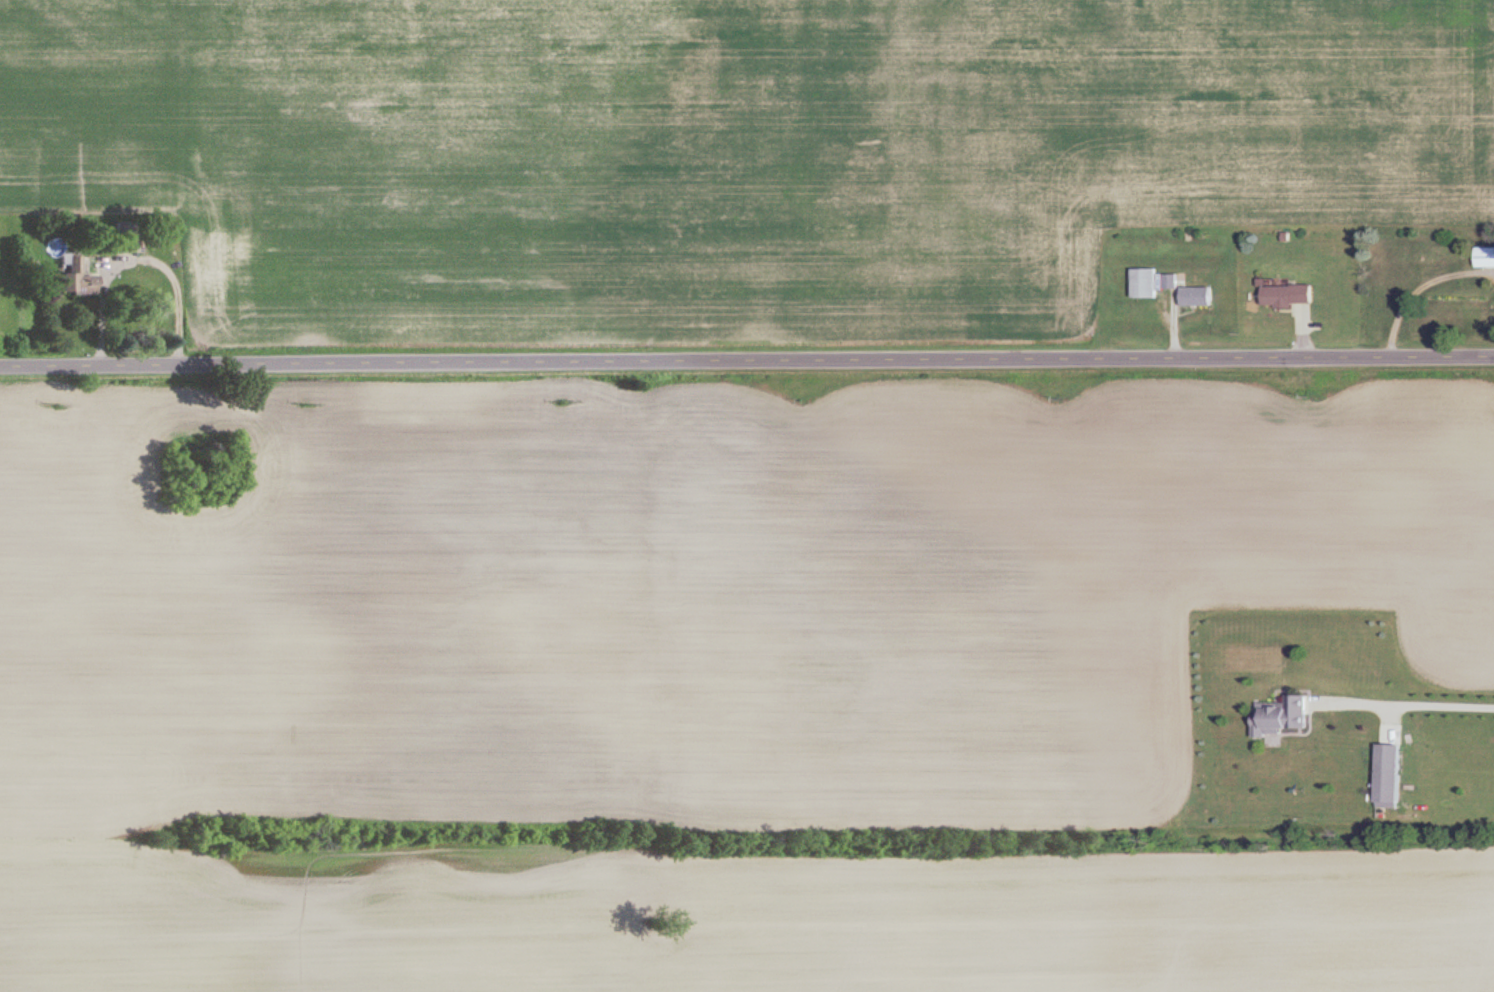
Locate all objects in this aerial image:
building: (129, 236)
building: (1486, 256)
road: (135, 259)
building: (79, 277)
building: (1171, 282)
building: (1146, 284)
road: (1420, 287)
building: (1288, 296)
building: (1198, 297)
road: (746, 360)
road: (1408, 698)
building: (1282, 717)
building: (1391, 777)

